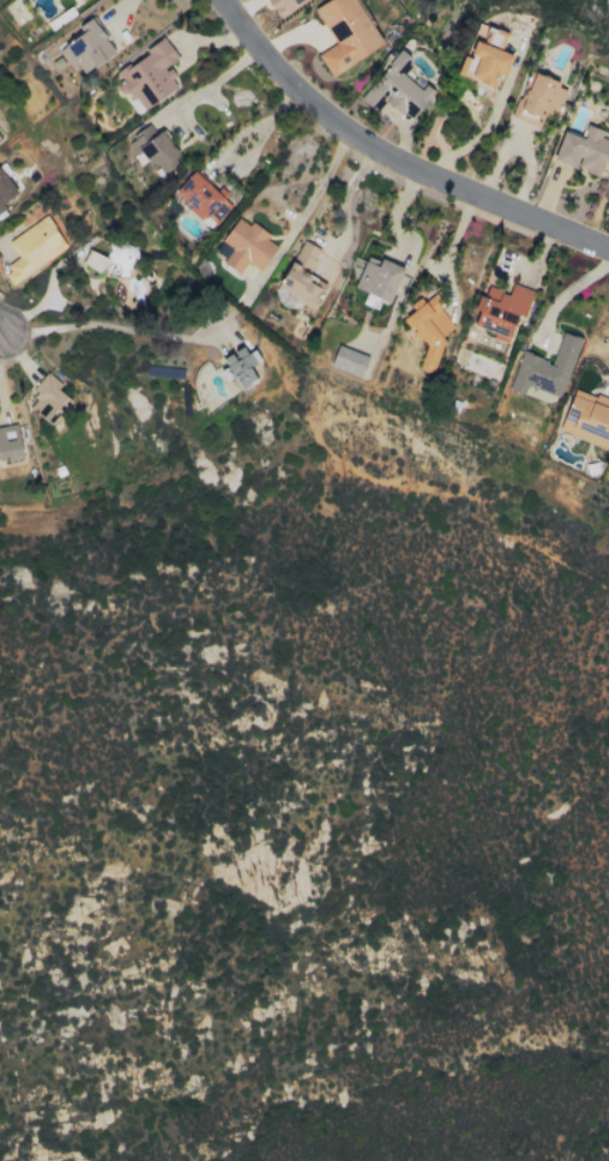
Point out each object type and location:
building: (285, 5)
road: (132, 17)
building: (345, 34)
building: (88, 48)
building: (484, 56)
building: (149, 76)
road: (210, 85)
building: (398, 88)
building: (537, 100)
road: (259, 142)
building: (581, 150)
road: (390, 169)
building: (5, 191)
road: (313, 198)
building: (203, 199)
road: (344, 203)
building: (246, 246)
building: (32, 248)
building: (306, 251)
building: (94, 260)
building: (370, 278)
road: (566, 295)
building: (501, 309)
road: (108, 327)
road: (2, 331)
building: (428, 331)
building: (348, 361)
building: (545, 368)
building: (243, 369)
road: (608, 385)
building: (48, 399)
building: (586, 417)
building: (8, 443)

